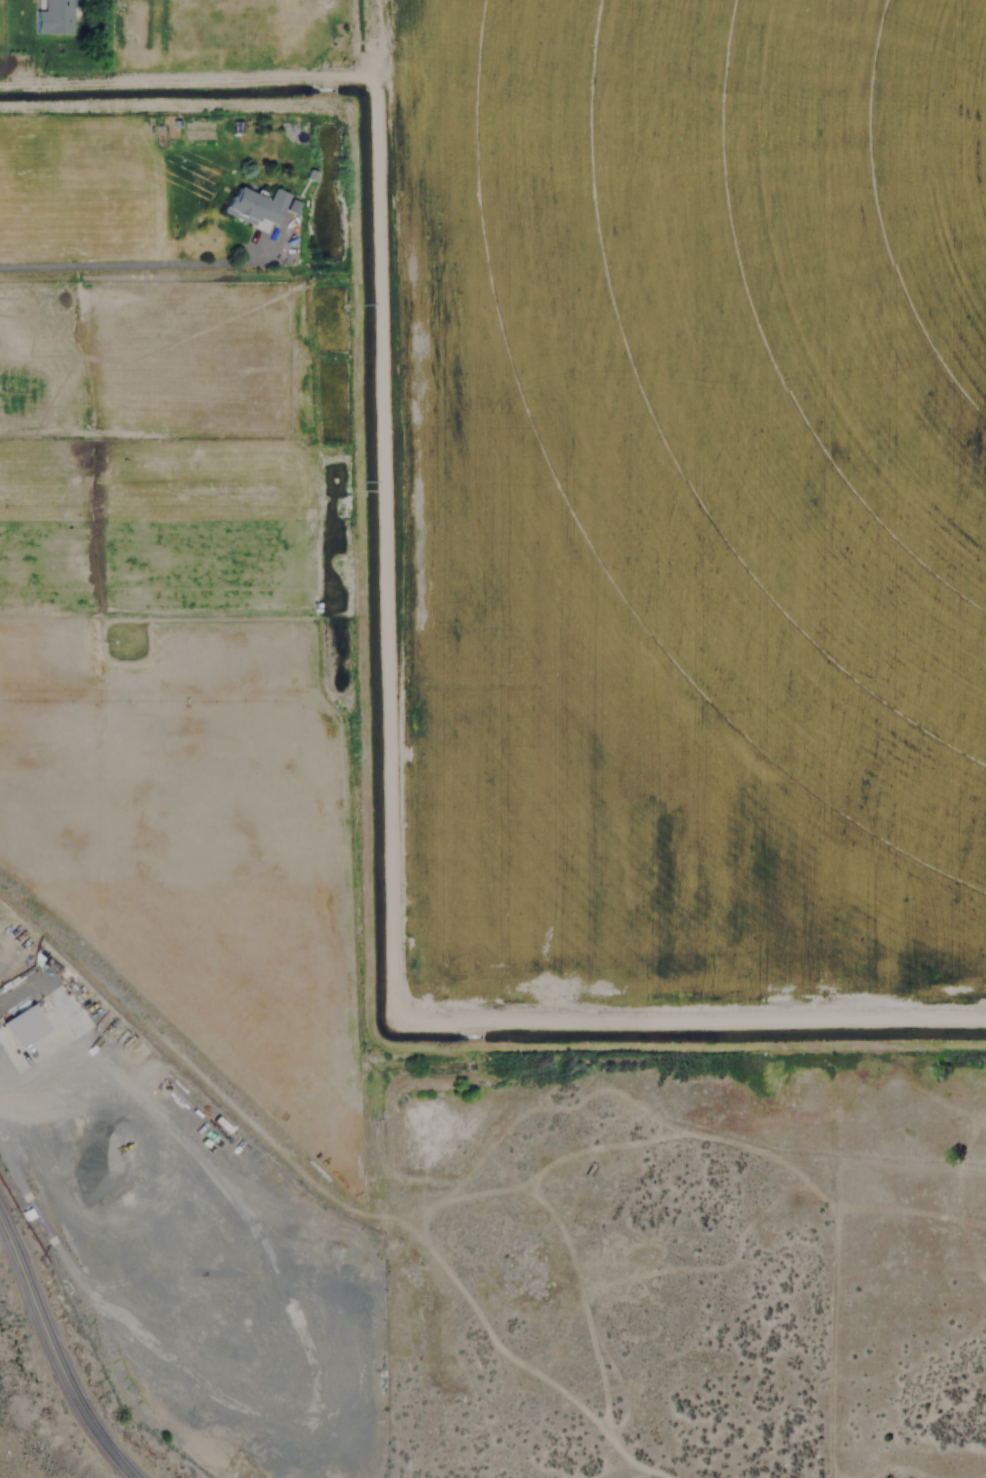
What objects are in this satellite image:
building: (52, 17)
building: (255, 205)
road: (138, 265)
crop: (743, 389)
crop: (572, 750)
building: (20, 1024)
road: (54, 1358)

